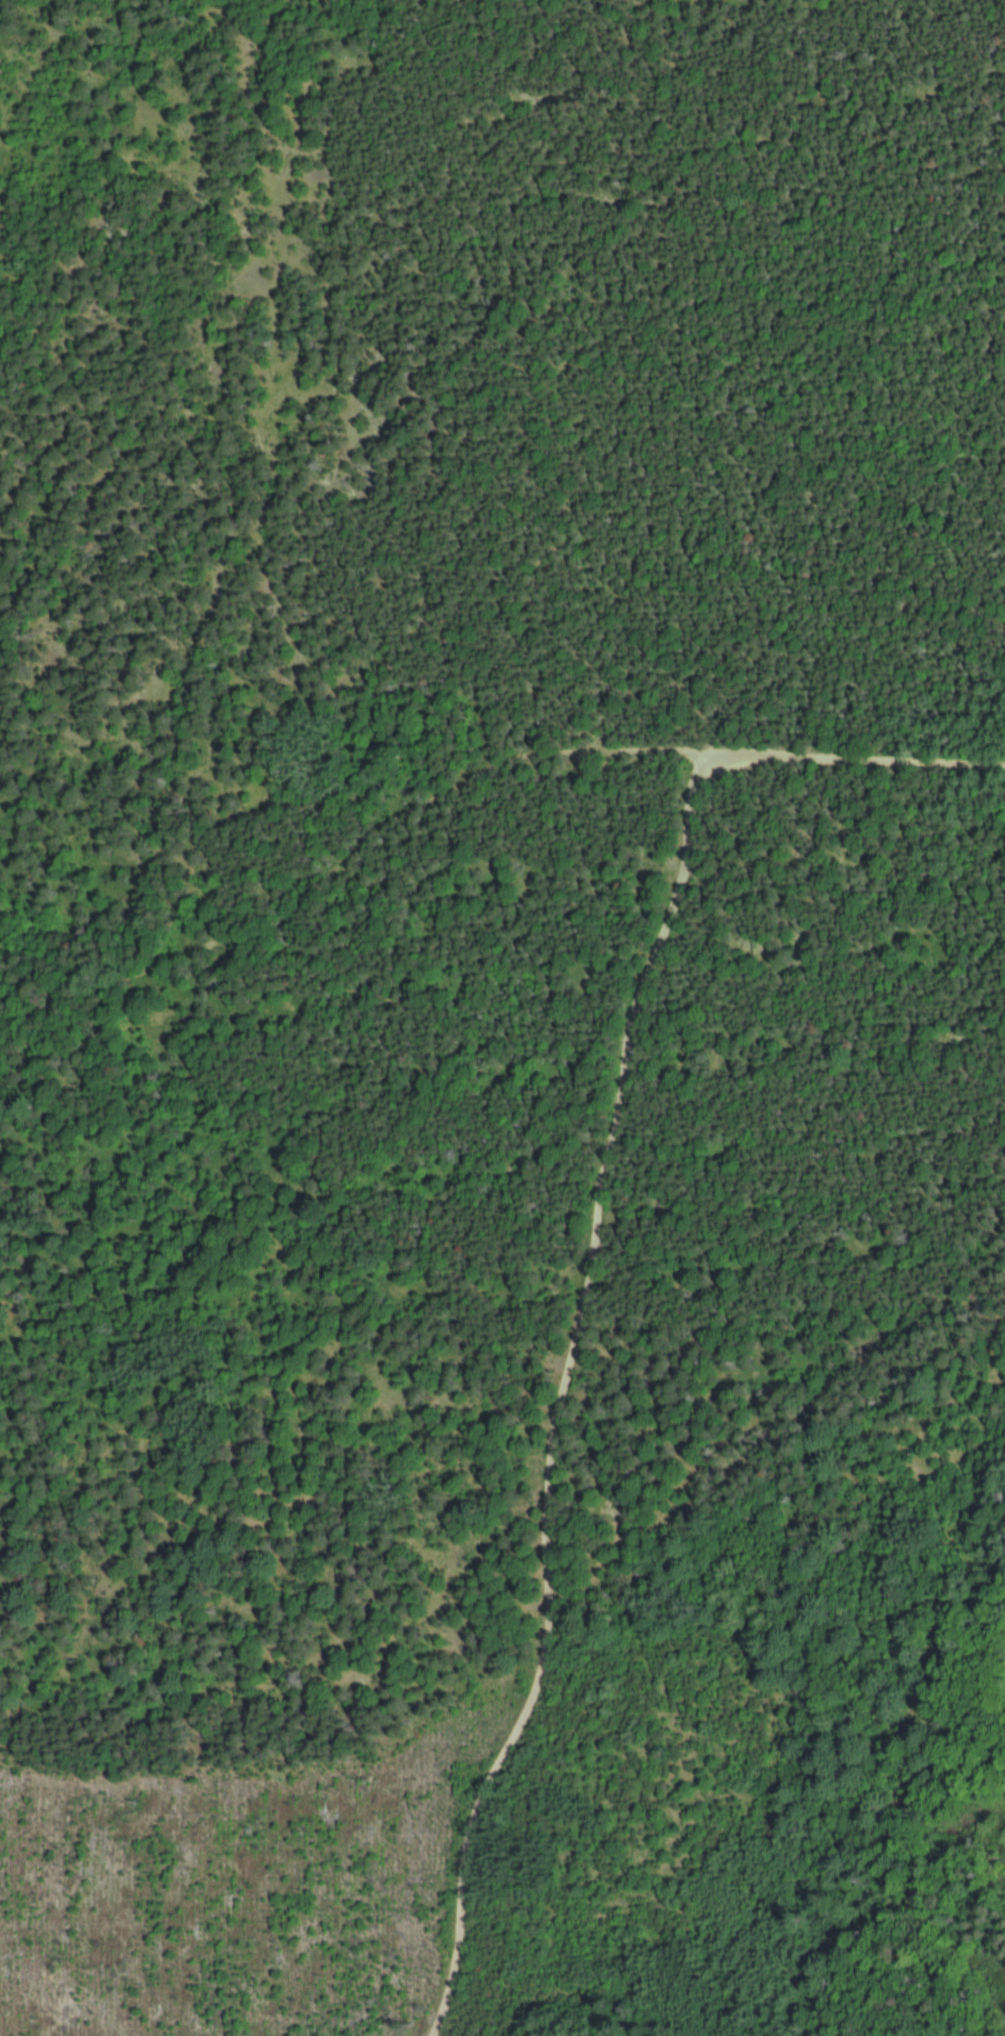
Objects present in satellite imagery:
road: (467, 767)
road: (549, 1403)

